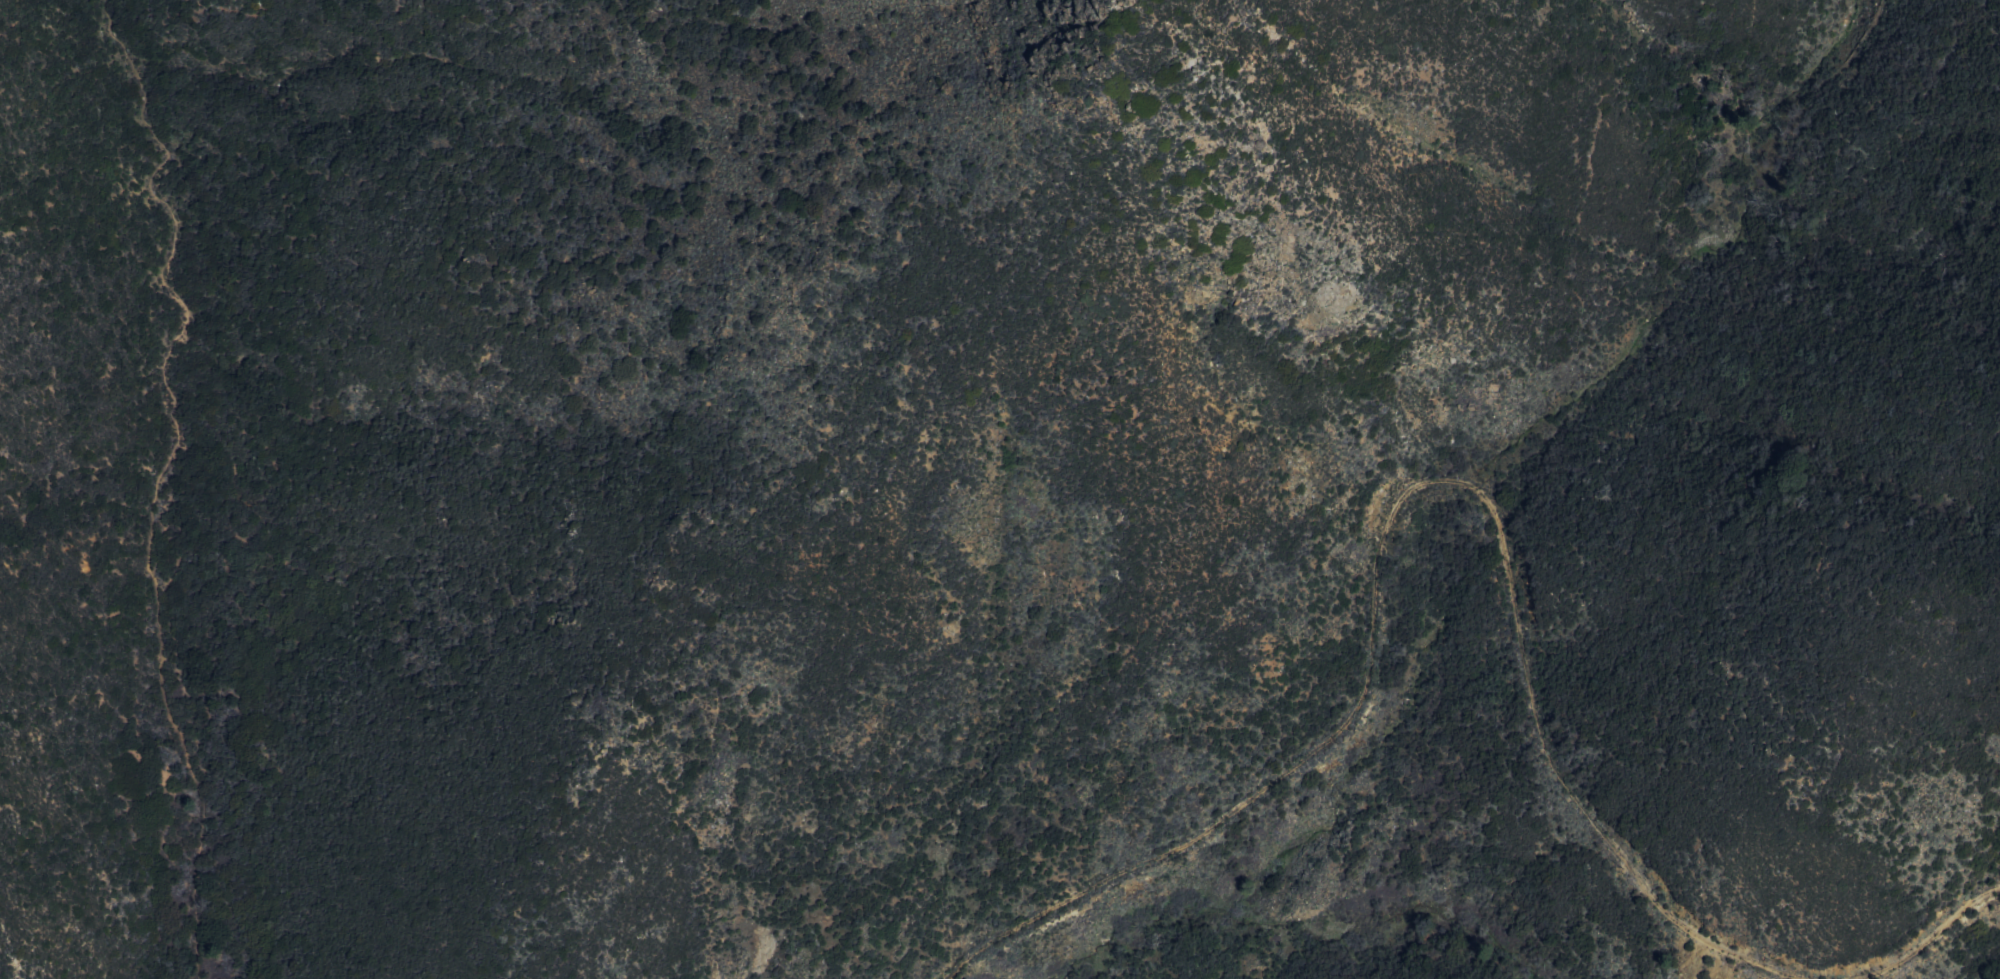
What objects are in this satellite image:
road: (159, 466)
road: (1399, 495)
road: (1933, 932)

